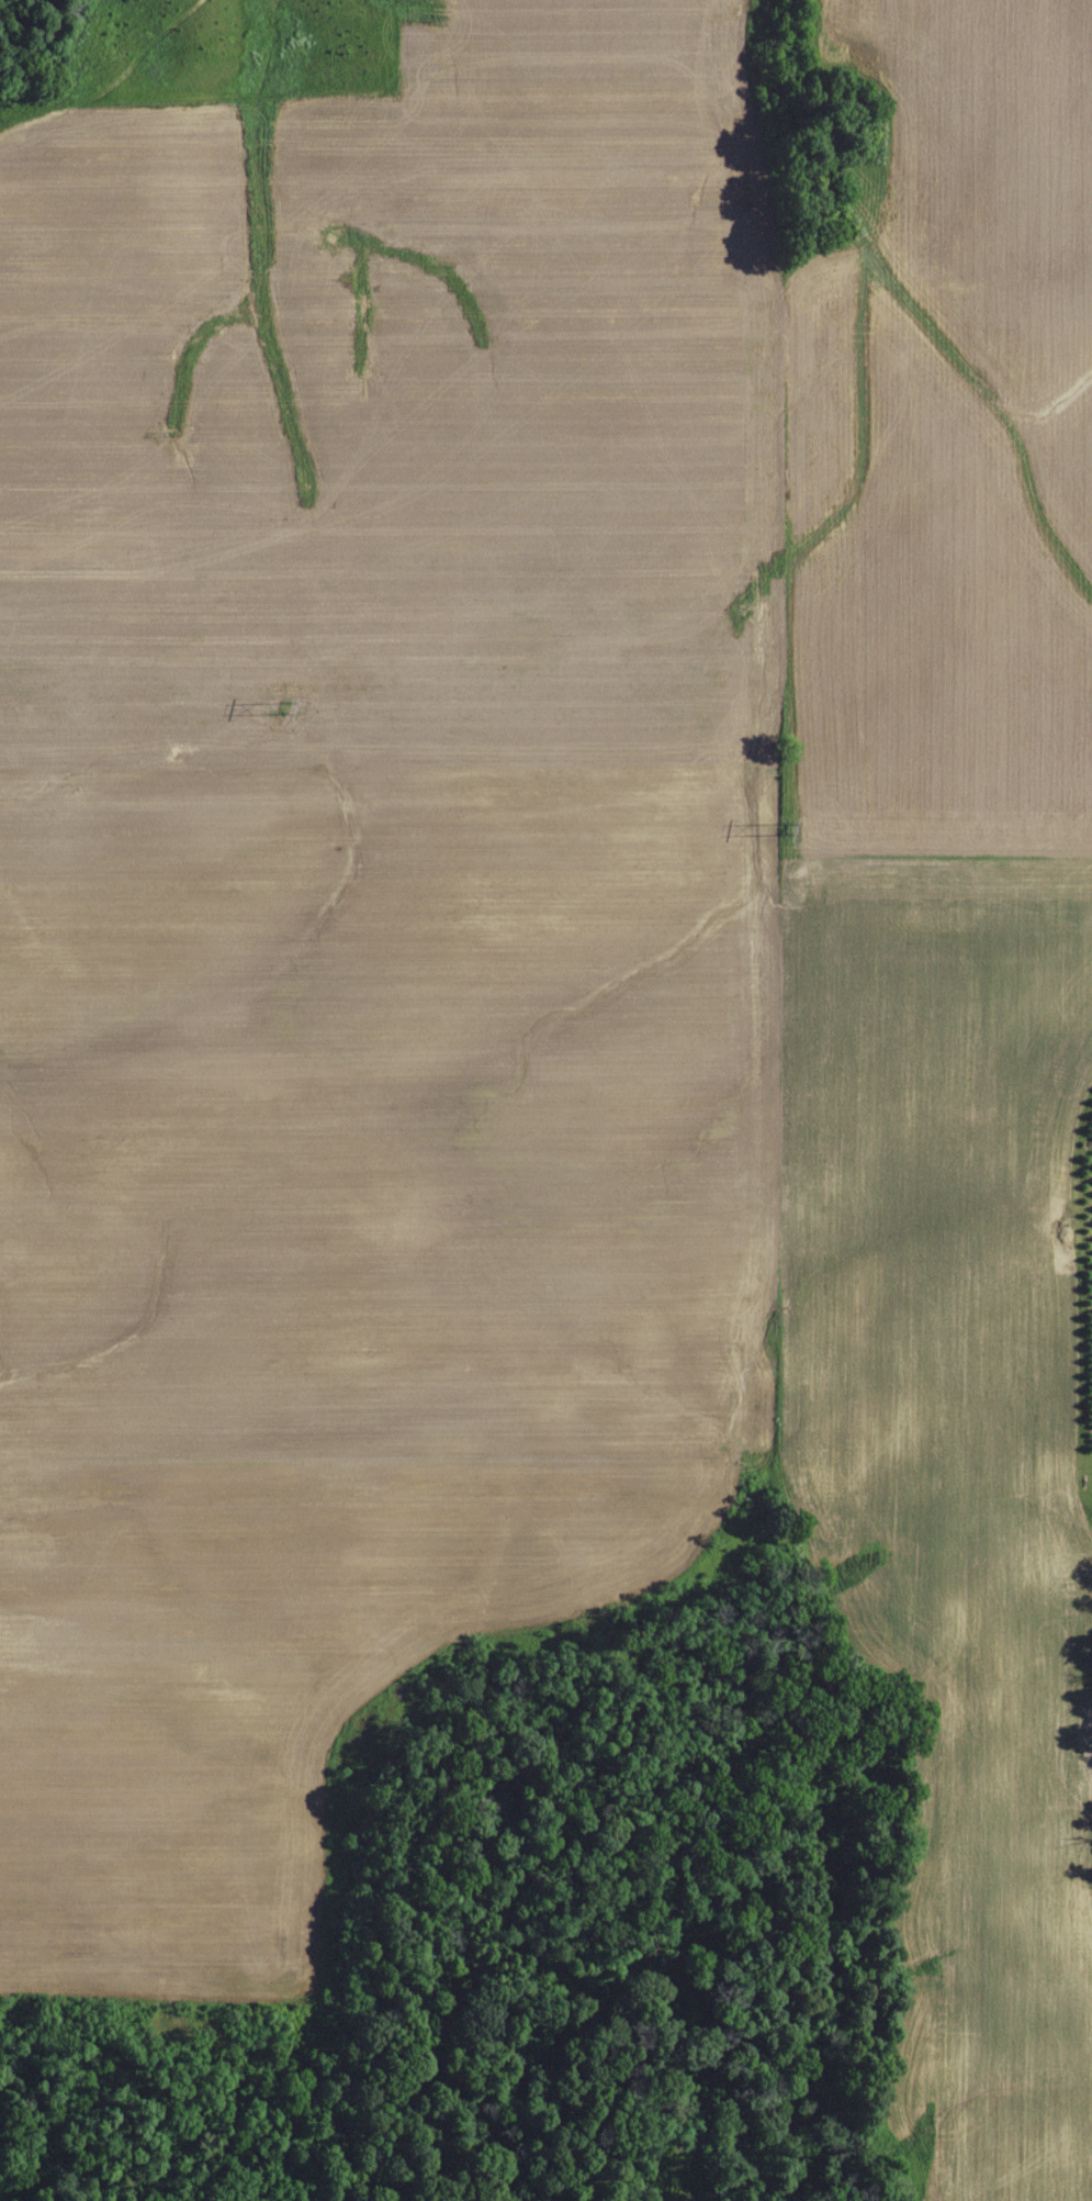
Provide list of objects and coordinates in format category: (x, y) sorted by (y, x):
power tower: (284, 710)
power tower: (788, 833)

